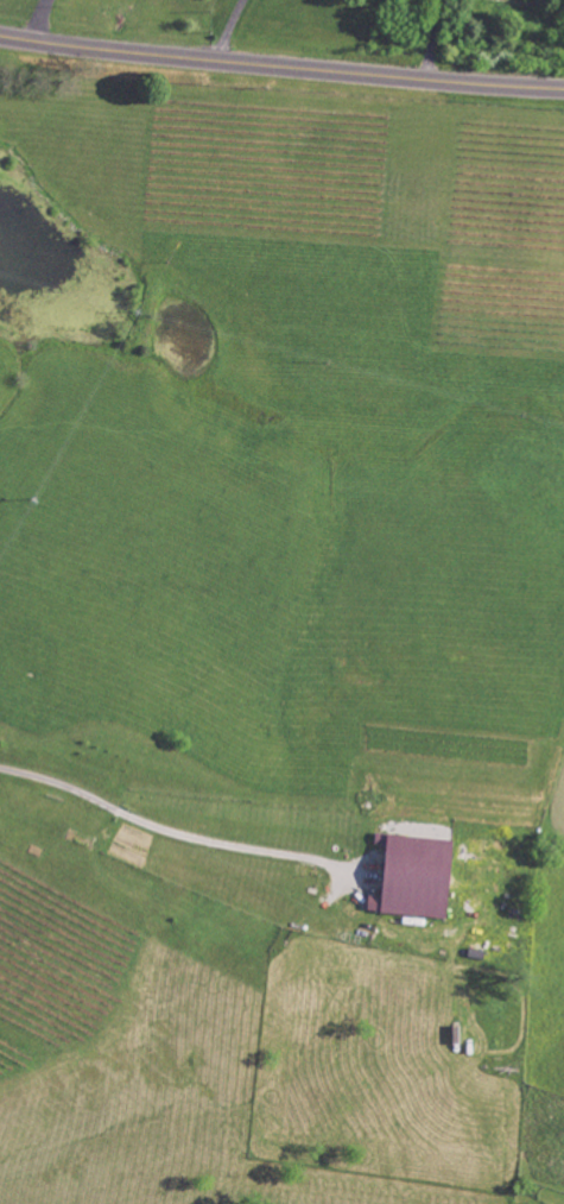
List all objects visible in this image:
road: (37, 19)
road: (281, 64)
road: (165, 827)
building: (418, 875)

